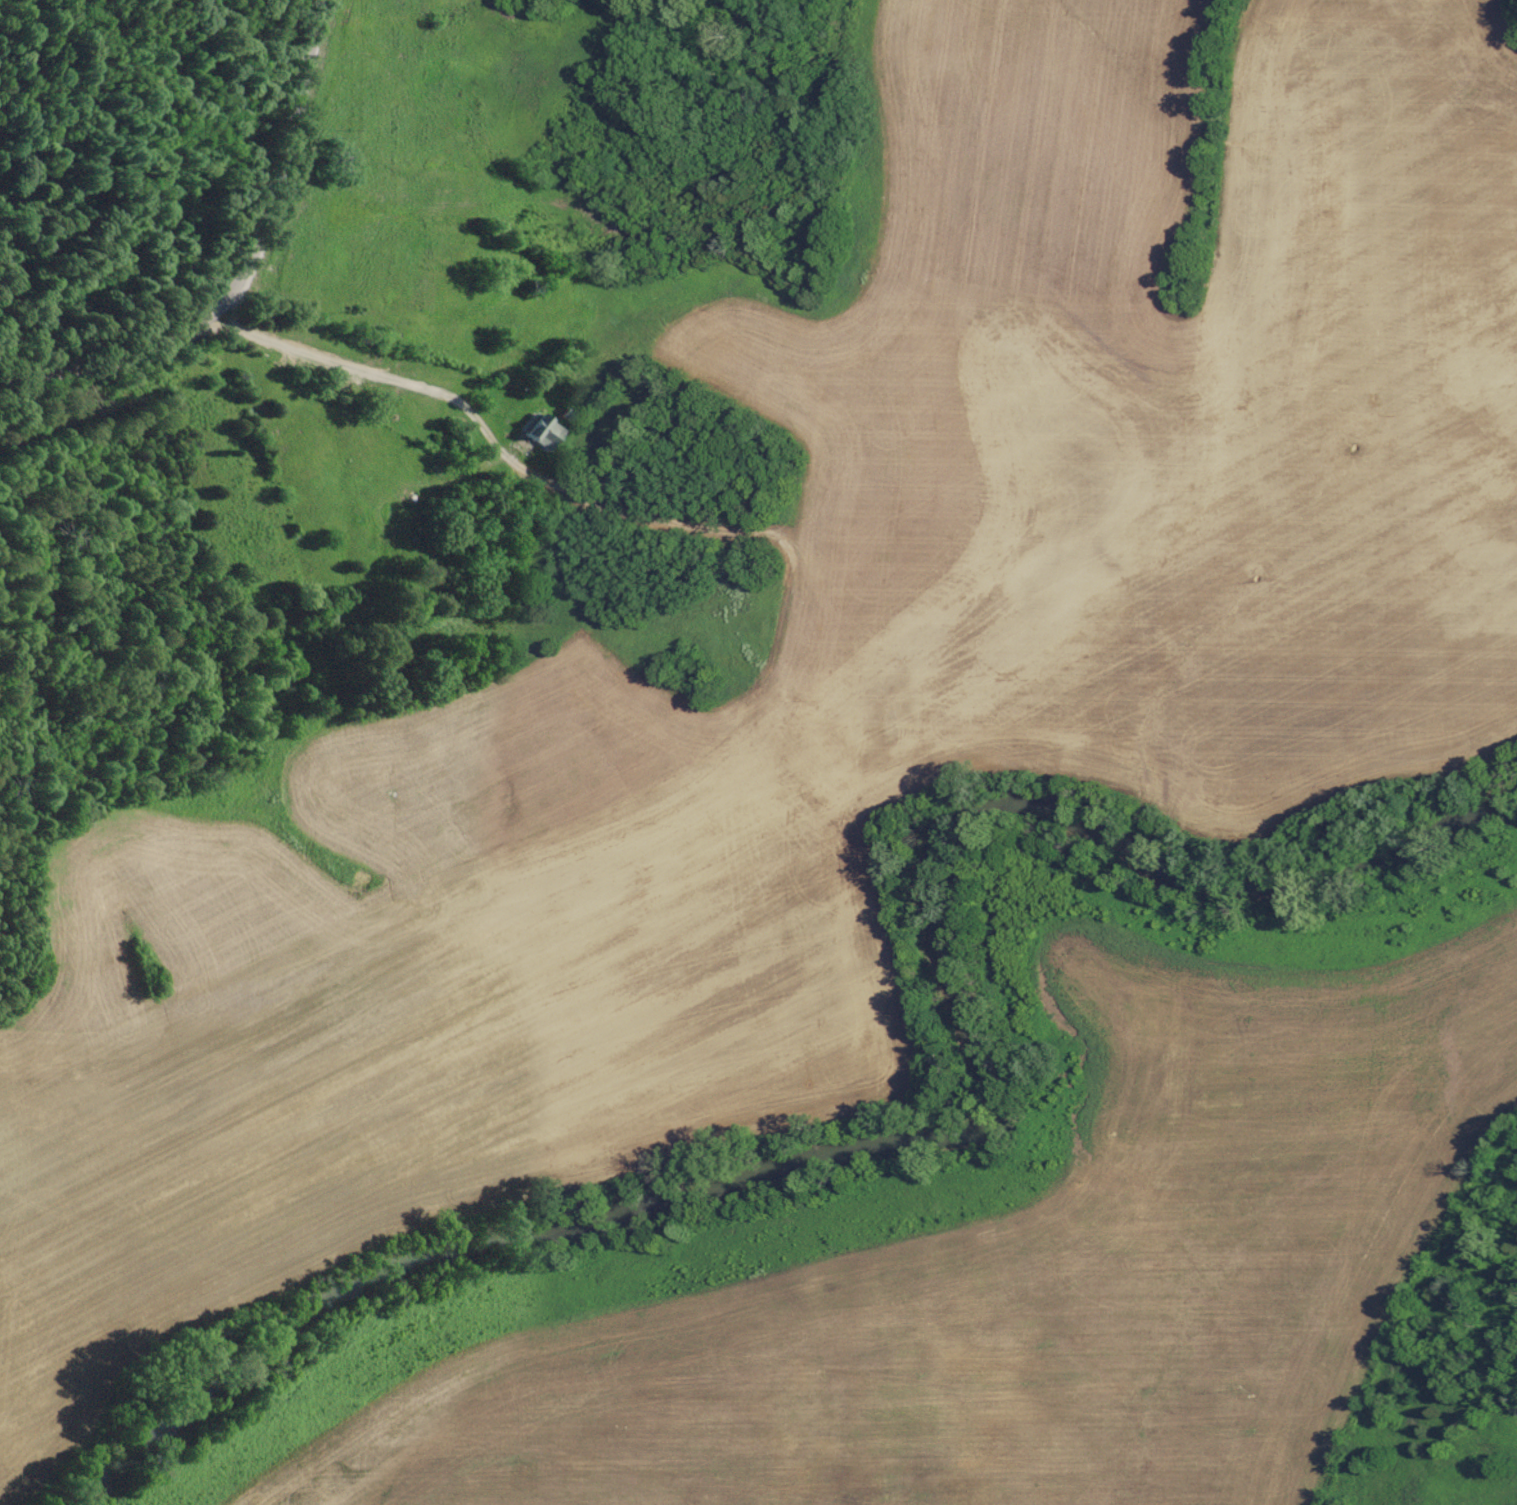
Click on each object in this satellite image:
road: (245, 270)
road: (365, 369)
road: (494, 377)
building: (543, 430)
road: (489, 458)
river: (922, 1118)

